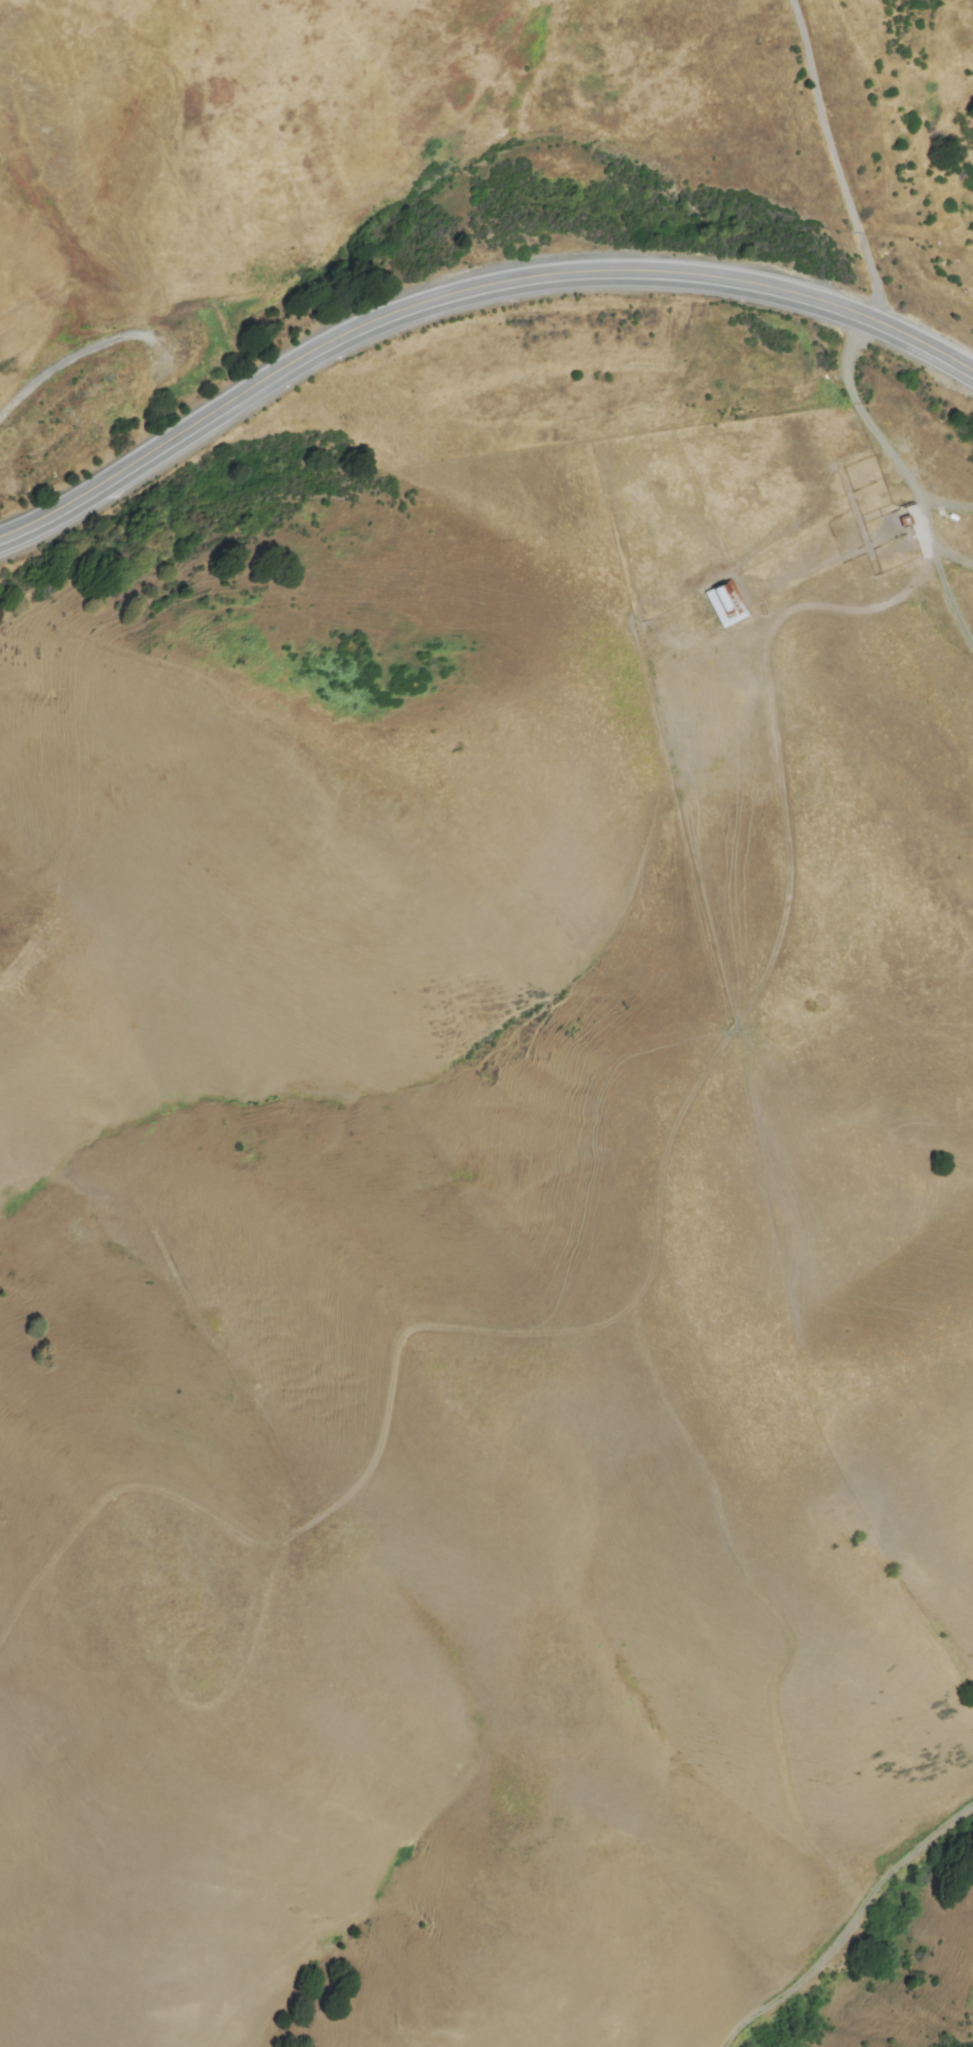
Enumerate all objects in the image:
road: (836, 161)
road: (464, 291)
road: (909, 476)
road: (816, 513)
building: (724, 603)
road: (850, 1930)

